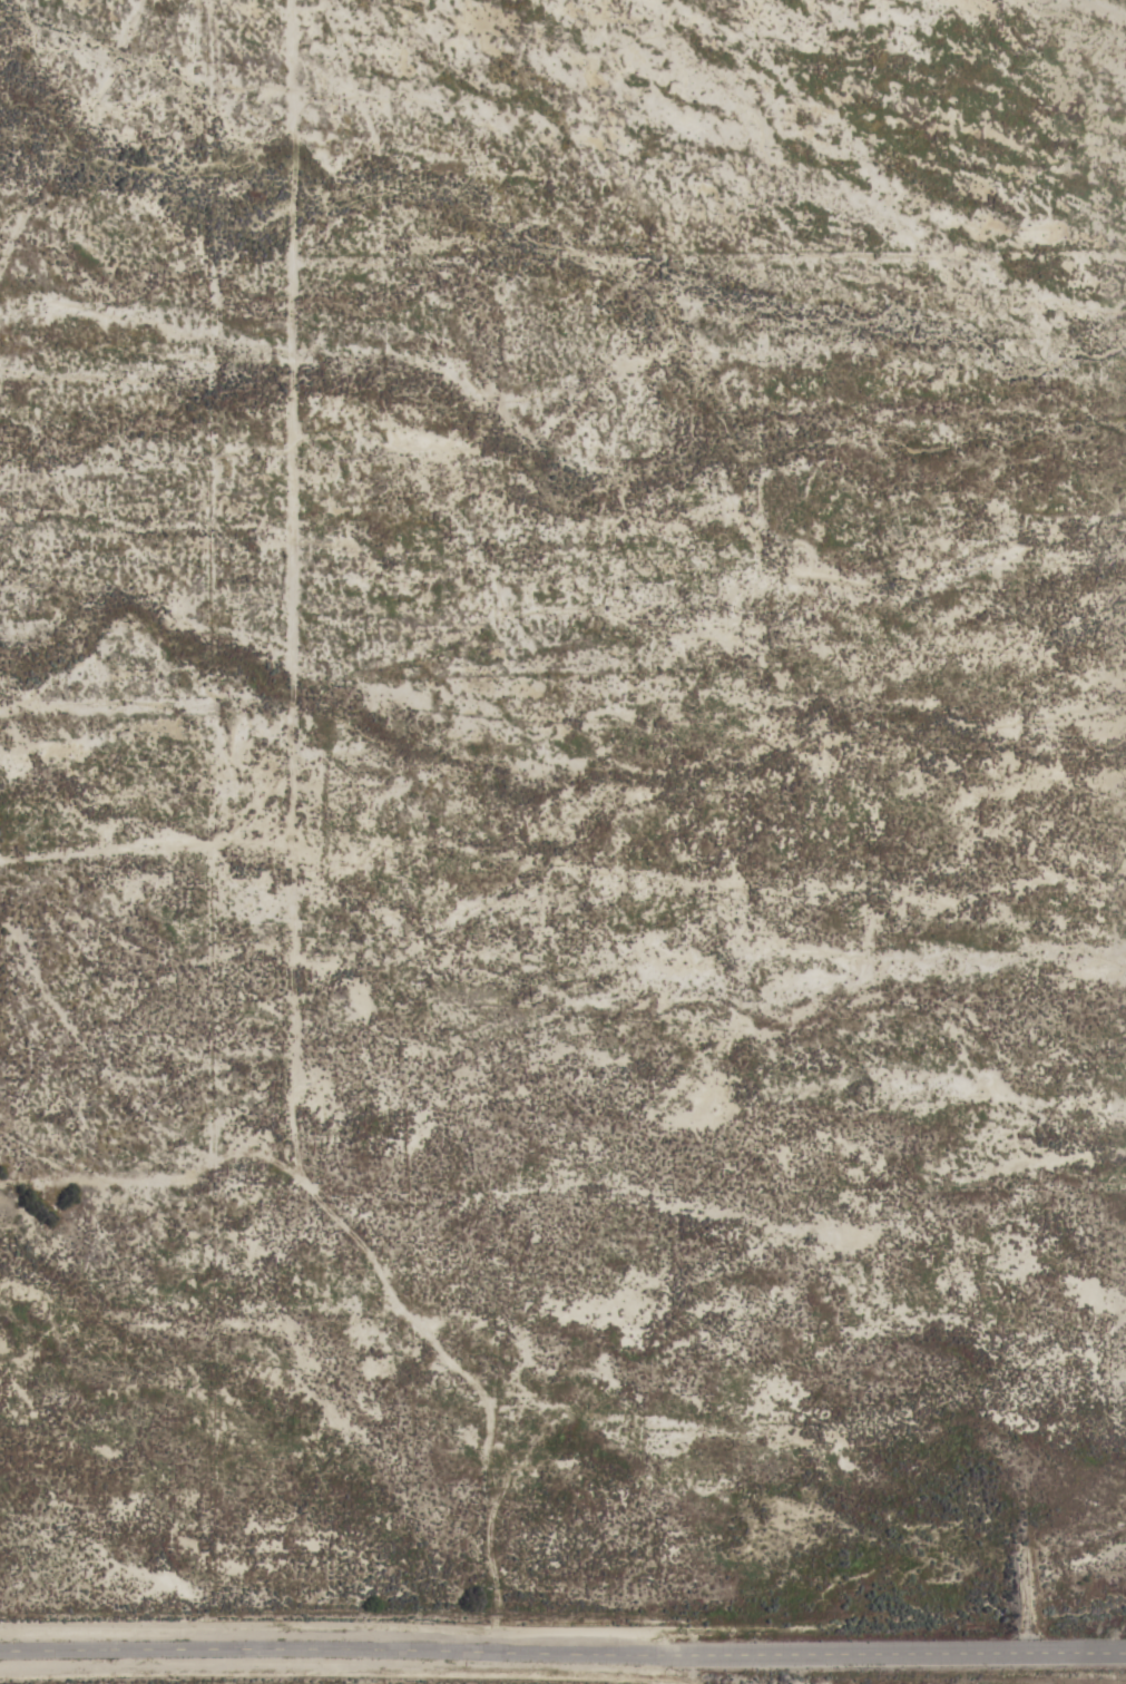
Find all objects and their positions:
road: (562, 1653)

